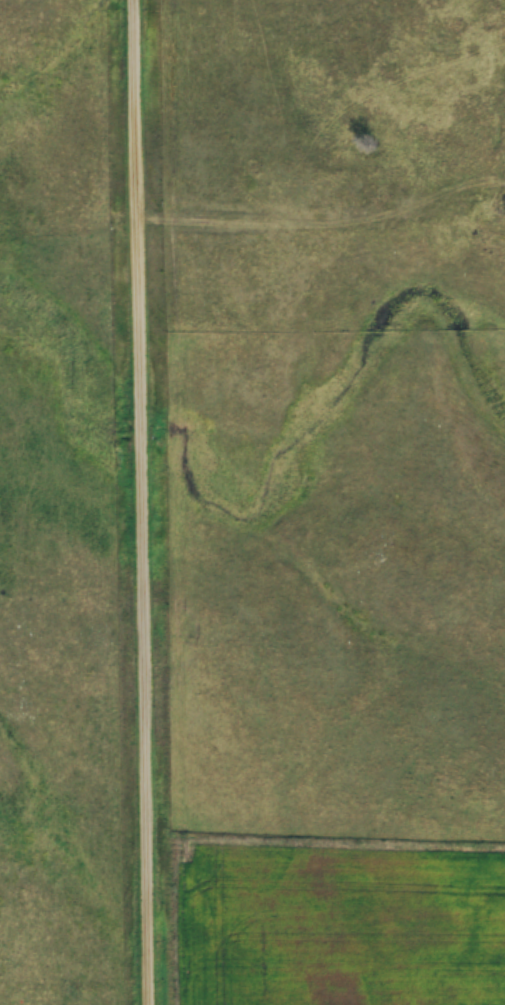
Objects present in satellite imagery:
road: (131, 502)
crop: (335, 923)

